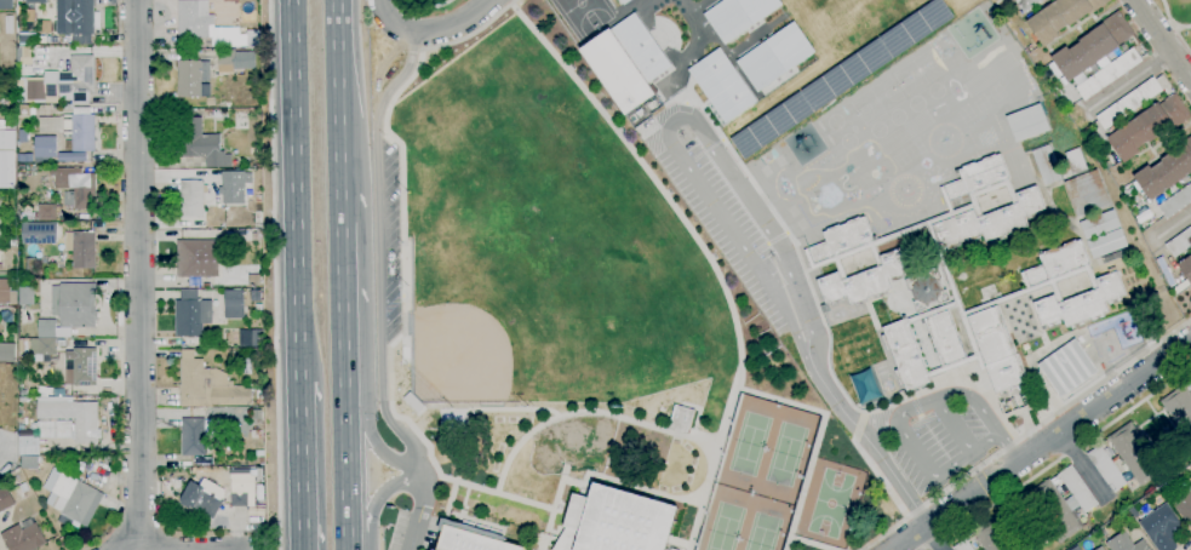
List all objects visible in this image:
building: (34, 1)
building: (623, 1)
building: (1026, 4)
building: (5, 5)
road: (382, 5)
road: (425, 7)
park: (583, 15)
building: (737, 16)
building: (79, 17)
building: (1061, 17)
building: (194, 18)
road: (416, 19)
road: (1169, 22)
building: (8, 25)
road: (435, 29)
building: (225, 36)
building: (25, 39)
road: (1181, 39)
road: (1162, 40)
building: (639, 47)
building: (1093, 47)
road: (417, 50)
building: (23, 53)
building: (775, 56)
building: (227, 57)
building: (241, 59)
road: (337, 59)
building: (617, 71)
park: (917, 73)
building: (1109, 73)
building: (841, 76)
building: (191, 78)
building: (78, 79)
road: (1129, 80)
building: (721, 85)
building: (35, 90)
park: (933, 91)
park: (875, 101)
building: (1129, 103)
park: (915, 104)
building: (25, 110)
building: (8, 115)
road: (671, 116)
park: (894, 116)
building: (1027, 122)
building: (7, 125)
building: (1149, 127)
building: (73, 128)
park: (876, 130)
building: (23, 136)
building: (201, 143)
building: (45, 148)
building: (73, 157)
building: (6, 159)
building: (21, 159)
building: (1076, 161)
road: (296, 170)
road: (339, 170)
building: (1167, 171)
building: (75, 187)
building: (234, 187)
building: (1087, 194)
building: (191, 199)
building: (1176, 202)
building: (42, 213)
road: (402, 214)
road: (1181, 217)
building: (1100, 224)
park: (560, 225)
parking lot: (729, 230)
building: (39, 233)
parking lot: (390, 240)
building: (1107, 244)
building: (1180, 244)
building: (81, 248)
road: (703, 250)
road: (379, 253)
building: (1115, 256)
building: (197, 258)
building: (1, 260)
building: (1186, 268)
road: (138, 275)
road: (273, 275)
building: (1048, 275)
building: (253, 280)
building: (927, 290)
building: (7, 292)
building: (27, 296)
building: (256, 297)
road: (340, 298)
building: (75, 304)
building: (234, 304)
building: (258, 309)
park: (595, 310)
building: (191, 314)
park: (482, 328)
building: (47, 330)
building: (251, 338)
building: (36, 348)
building: (7, 353)
road: (299, 361)
building: (80, 367)
building: (1067, 368)
building: (208, 385)
building: (61, 393)
building: (259, 396)
building: (413, 402)
building: (1180, 408)
road: (590, 413)
building: (680, 418)
building: (61, 423)
road: (954, 425)
road: (901, 426)
road: (1057, 432)
road: (1026, 434)
road: (368, 435)
building: (193, 436)
road: (817, 437)
park: (749, 443)
road: (1009, 445)
parking lot: (939, 446)
park: (785, 453)
road: (877, 457)
road: (1058, 458)
building: (1127, 459)
building: (29, 462)
road: (344, 462)
road: (300, 465)
road: (1081, 466)
road: (975, 470)
building: (240, 474)
road: (563, 479)
road: (984, 485)
building: (242, 493)
building: (70, 498)
building: (204, 498)
building: (5, 499)
road: (995, 499)
road: (374, 502)
park: (830, 503)
building: (1061, 504)
building: (1184, 504)
road: (418, 511)
road: (443, 515)
building: (615, 522)
park: (725, 527)
building: (1161, 527)
parking lot: (413, 531)
park: (762, 532)
building: (990, 537)
building: (24, 538)
road: (378, 538)
road: (907, 538)
road: (933, 538)
building: (471, 540)
road: (811, 544)
building: (1126, 544)
building: (1077, 548)
building: (1101, 548)

